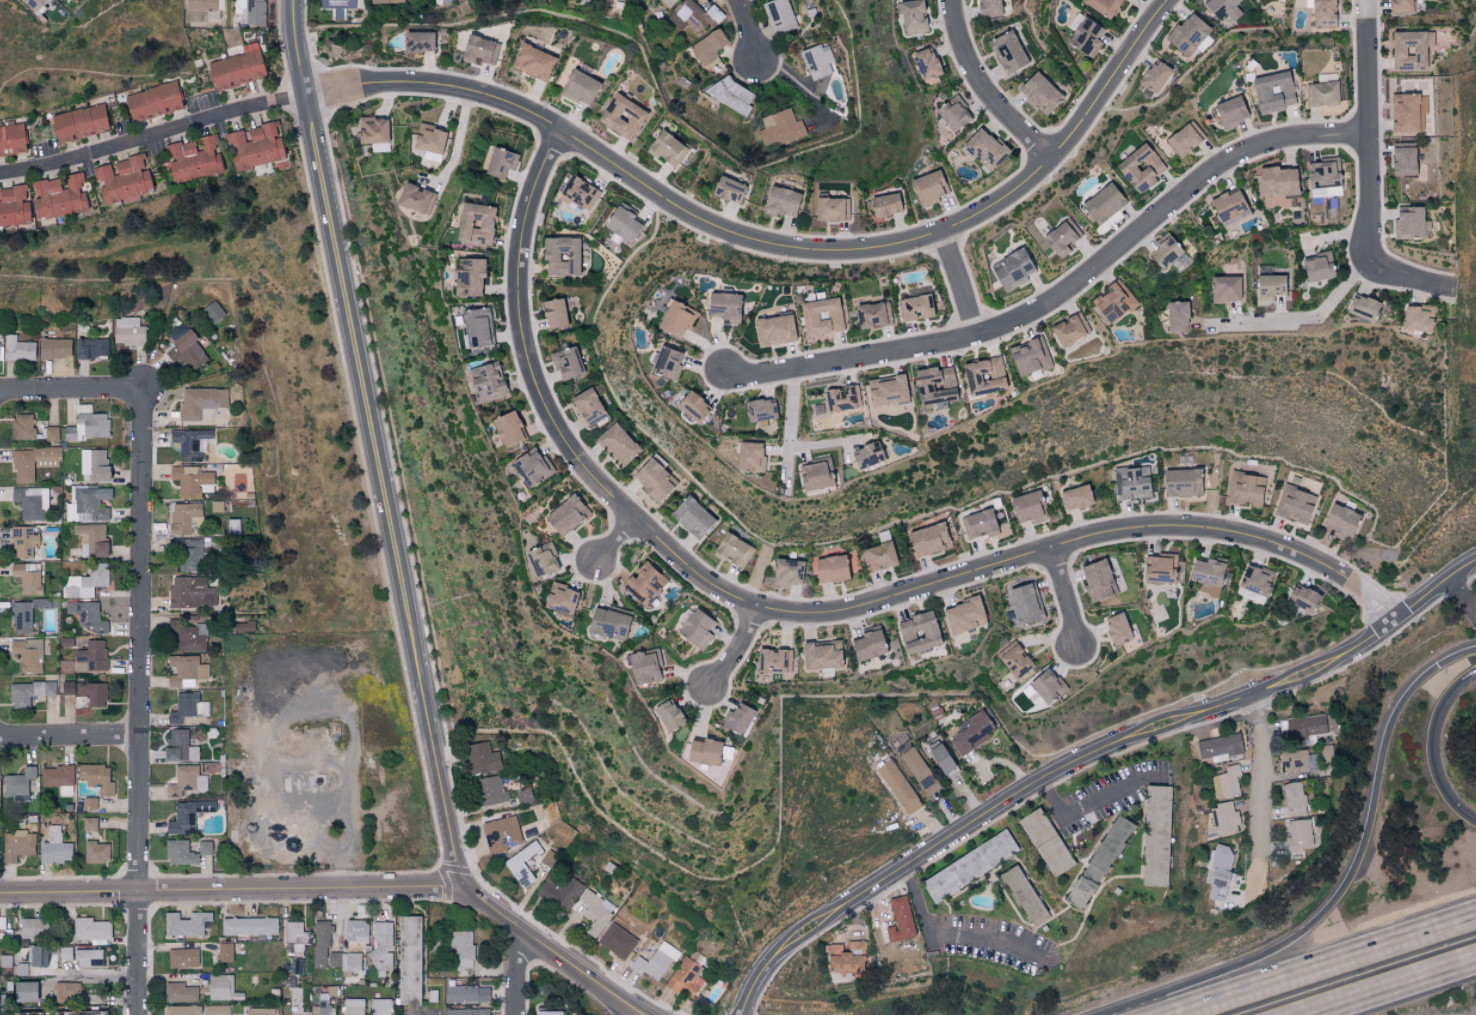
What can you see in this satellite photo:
building: (445, 0)
building: (386, 1)
building: (31, 3)
building: (336, 4)
building: (1103, 6)
building: (1219, 6)
building: (1400, 6)
building: (204, 7)
building: (988, 7)
building: (249, 12)
building: (1322, 12)
building: (694, 16)
building: (779, 16)
building: (912, 17)
road: (749, 30)
building: (1186, 33)
building: (1085, 37)
building: (417, 41)
building: (708, 47)
building: (1409, 49)
building: (478, 50)
building: (1006, 51)
building: (532, 61)
building: (818, 62)
building: (925, 63)
building: (236, 67)
building: (1154, 75)
road: (802, 86)
road: (986, 86)
building: (579, 87)
building: (1272, 91)
building: (1039, 92)
building: (1320, 93)
building: (732, 95)
building: (153, 101)
building: (1229, 111)
building: (1407, 112)
building: (952, 113)
building: (622, 117)
building: (79, 123)
building: (780, 129)
building: (373, 133)
road: (155, 137)
building: (1184, 138)
building: (12, 139)
road: (459, 139)
building: (429, 141)
building: (253, 146)
building: (665, 148)
building: (983, 148)
building: (192, 158)
building: (1403, 158)
building: (499, 162)
building: (1139, 167)
road: (1371, 174)
building: (1322, 177)
building: (122, 178)
building: (1276, 181)
building: (928, 188)
building: (728, 189)
building: (579, 193)
building: (58, 197)
building: (415, 198)
building: (781, 201)
building: (1101, 203)
building: (883, 204)
building: (14, 206)
building: (1228, 207)
building: (831, 208)
building: (621, 221)
building: (474, 223)
building: (1409, 223)
building: (1060, 235)
road: (773, 242)
building: (1164, 252)
building: (563, 257)
building: (1011, 267)
building: (1316, 267)
building: (468, 277)
road: (964, 284)
building: (1268, 287)
building: (1224, 289)
road: (1067, 299)
building: (1113, 301)
building: (724, 306)
building: (916, 307)
building: (1361, 307)
building: (212, 312)
building: (553, 313)
building: (872, 314)
road: (1302, 315)
building: (820, 316)
building: (1176, 316)
building: (1416, 317)
building: (676, 318)
building: (475, 327)
building: (1069, 328)
building: (773, 329)
building: (128, 331)
building: (54, 348)
building: (91, 348)
building: (18, 349)
building: (186, 350)
building: (1029, 356)
building: (665, 362)
building: (566, 363)
building: (983, 375)
building: (485, 383)
road: (70, 389)
building: (887, 392)
building: (839, 399)
building: (201, 402)
building: (587, 406)
building: (691, 406)
building: (759, 409)
building: (22, 427)
building: (88, 427)
building: (507, 429)
building: (51, 433)
road: (789, 435)
road: (378, 442)
building: (190, 443)
building: (616, 444)
building: (865, 455)
building: (749, 456)
building: (33, 462)
building: (94, 464)
building: (532, 466)
building: (651, 479)
building: (190, 480)
building: (1132, 482)
building: (1180, 483)
building: (1245, 489)
building: (1075, 497)
building: (31, 503)
building: (89, 505)
building: (1295, 505)
building: (1025, 506)
building: (566, 515)
building: (691, 516)
building: (183, 517)
building: (1340, 521)
building: (979, 523)
building: (232, 526)
road: (622, 538)
building: (927, 539)
building: (92, 540)
building: (23, 542)
building: (732, 550)
building: (190, 555)
building: (877, 556)
building: (541, 559)
building: (830, 568)
building: (1159, 568)
building: (1207, 571)
building: (786, 572)
building: (28, 578)
building: (1096, 580)
building: (86, 582)
building: (1255, 582)
building: (644, 584)
road: (1433, 589)
building: (1207, 591)
road: (1459, 592)
building: (190, 593)
building: (560, 598)
road: (1062, 598)
building: (1301, 598)
building: (1025, 603)
road: (1473, 605)
road: (1473, 606)
road: (808, 611)
building: (87, 616)
building: (962, 616)
building: (22, 617)
building: (608, 623)
building: (243, 627)
building: (695, 629)
building: (1116, 629)
building: (918, 633)
building: (187, 636)
building: (867, 645)
road: (737, 646)
building: (28, 655)
building: (819, 655)
building: (90, 657)
building: (1014, 661)
building: (644, 666)
building: (185, 671)
building: (1046, 686)
building: (67, 688)
building: (29, 693)
building: (95, 695)
building: (1031, 695)
road: (139, 702)
building: (187, 708)
building: (667, 715)
building: (738, 718)
building: (1304, 727)
building: (970, 734)
road: (69, 737)
road: (1432, 745)
building: (1218, 746)
building: (178, 747)
building: (701, 751)
building: (940, 759)
building: (1293, 762)
building: (919, 771)
building: (56, 776)
building: (96, 778)
road: (1041, 778)
building: (186, 781)
building: (1227, 783)
building: (18, 785)
building: (898, 788)
building: (65, 791)
road: (1256, 795)
building: (1293, 799)
building: (89, 803)
road: (1092, 804)
building: (186, 817)
building: (1223, 820)
building: (86, 824)
building: (1298, 835)
building: (1154, 836)
building: (1044, 842)
building: (19, 846)
building: (55, 848)
building: (204, 848)
road: (344, 848)
building: (96, 852)
building: (179, 853)
building: (1098, 862)
building: (968, 866)
building: (1218, 871)
road: (1356, 876)
building: (583, 879)
road: (315, 888)
building: (1023, 896)
road: (876, 910)
building: (899, 921)
building: (185, 924)
building: (249, 926)
building: (31, 928)
building: (91, 929)
building: (356, 931)
road: (949, 935)
building: (296, 939)
building: (321, 944)
building: (382, 945)
building: (461, 949)
building: (224, 952)
building: (37, 957)
building: (88, 958)
building: (182, 958)
building: (845, 959)
building: (410, 960)
building: (345, 961)
park: (441, 967)
road: (1319, 967)
building: (22, 969)
road: (515, 972)
road: (98, 976)
building: (220, 986)
park: (549, 987)
road: (1396, 989)
building: (24, 992)
building: (66, 992)
building: (179, 993)
building: (471, 993)
park: (439, 997)
road: (610, 999)
road: (613, 999)
road: (626, 999)
building: (325, 1007)
building: (366, 1007)
building: (181, 1010)
building: (215, 1010)
building: (259, 1011)
parking lot: (417, 1012)
road: (419, 1012)
building: (469, 1012)
building: (562, 1012)
building: (78, 1013)
building: (25, 1014)

